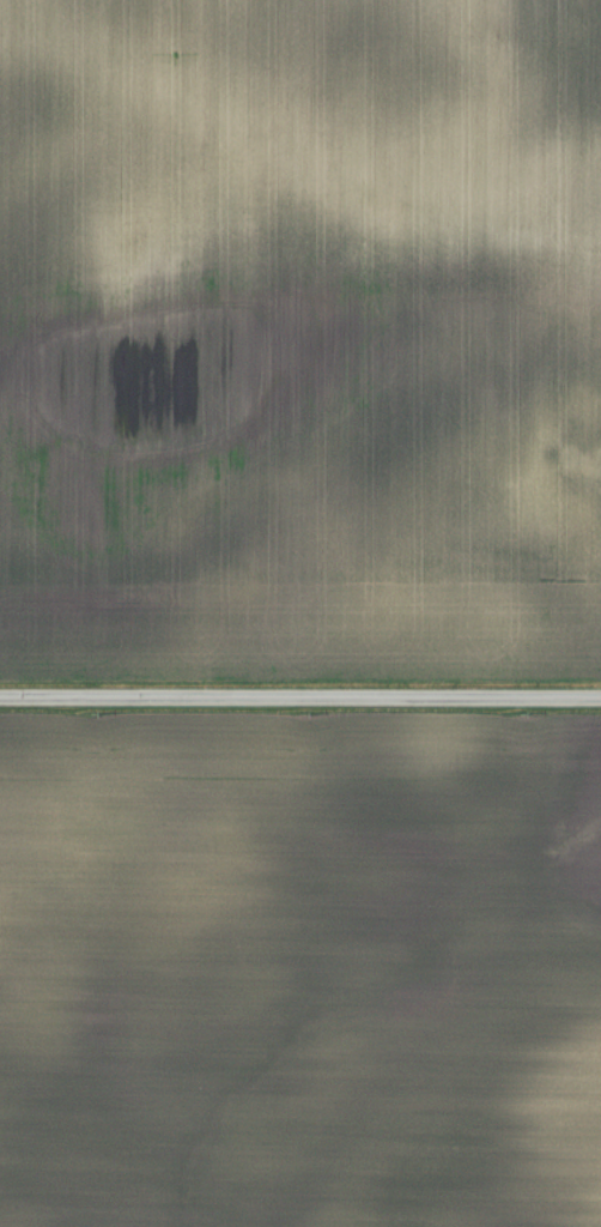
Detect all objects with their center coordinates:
road: (300, 695)

